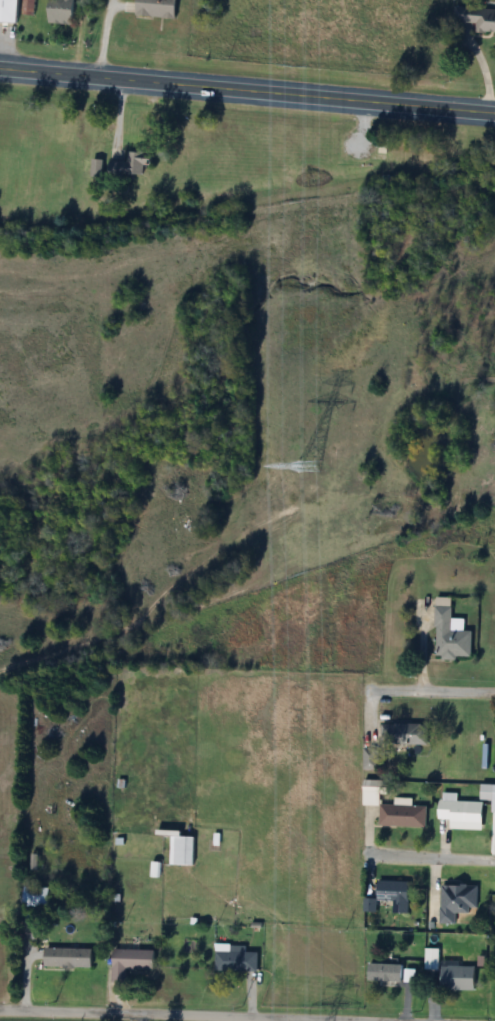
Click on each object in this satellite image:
building: (154, 9)
building: (7, 11)
building: (59, 11)
building: (473, 20)
road: (247, 90)
building: (134, 162)
power tower: (306, 467)
building: (449, 634)
road: (430, 691)
building: (402, 734)
building: (484, 794)
building: (401, 815)
building: (459, 815)
building: (179, 851)
road: (430, 857)
building: (392, 895)
building: (34, 897)
building: (455, 902)
building: (66, 958)
building: (429, 958)
building: (233, 959)
building: (127, 963)
building: (383, 972)
building: (455, 978)
road: (177, 1015)
road: (148, 1018)

